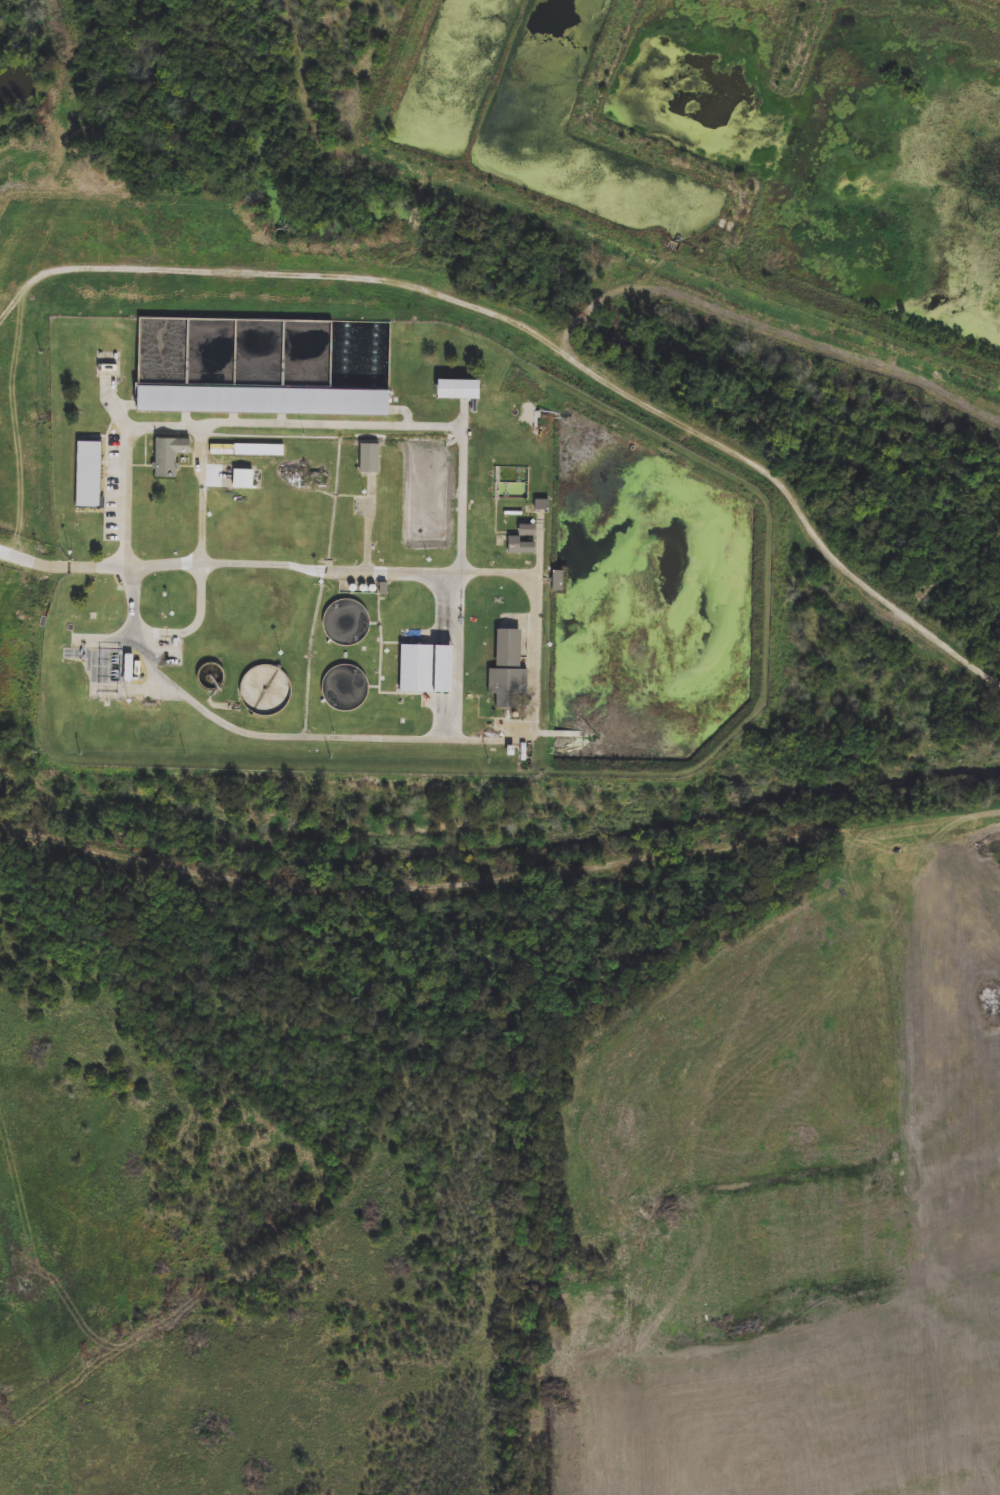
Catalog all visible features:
building: (239, 355)
road: (299, 429)
building: (260, 451)
building: (171, 456)
building: (371, 459)
building: (93, 466)
building: (244, 480)
building: (429, 495)
building: (236, 530)
building: (159, 532)
building: (525, 542)
wastewater plant: (381, 557)
road: (66, 563)
building: (259, 608)
building: (359, 617)
road: (195, 627)
building: (206, 629)
building: (510, 649)
building: (170, 652)
road: (534, 657)
building: (213, 678)
building: (509, 689)
building: (265, 692)
road: (449, 709)

